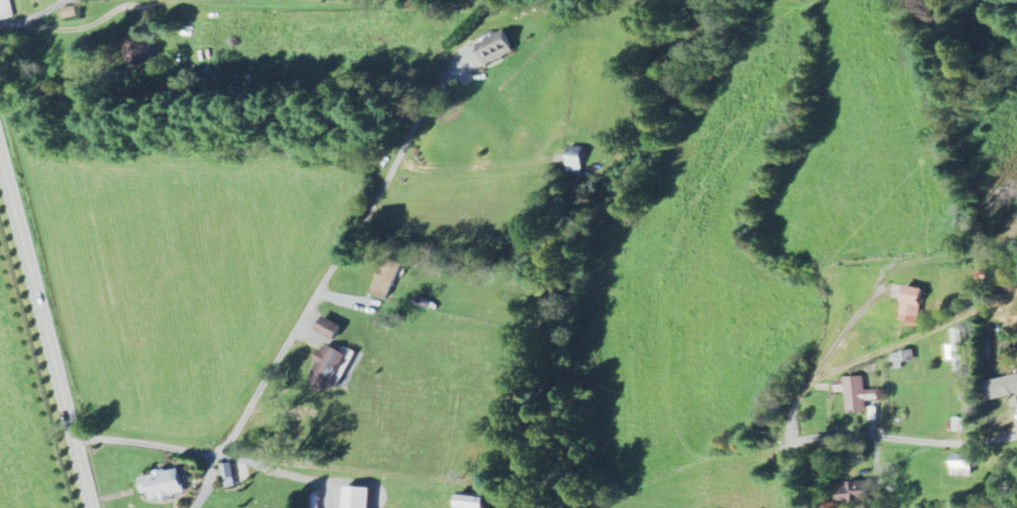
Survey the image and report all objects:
road: (316, 2)
road: (34, 8)
building: (5, 10)
building: (71, 13)
building: (497, 47)
building: (578, 159)
building: (387, 279)
building: (907, 304)
road: (310, 306)
road: (45, 327)
building: (332, 328)
building: (331, 369)
building: (999, 387)
building: (855, 395)
road: (793, 403)
road: (904, 439)
road: (146, 449)
building: (958, 465)
building: (229, 475)
road: (787, 475)
building: (166, 484)
building: (360, 497)
building: (476, 502)

